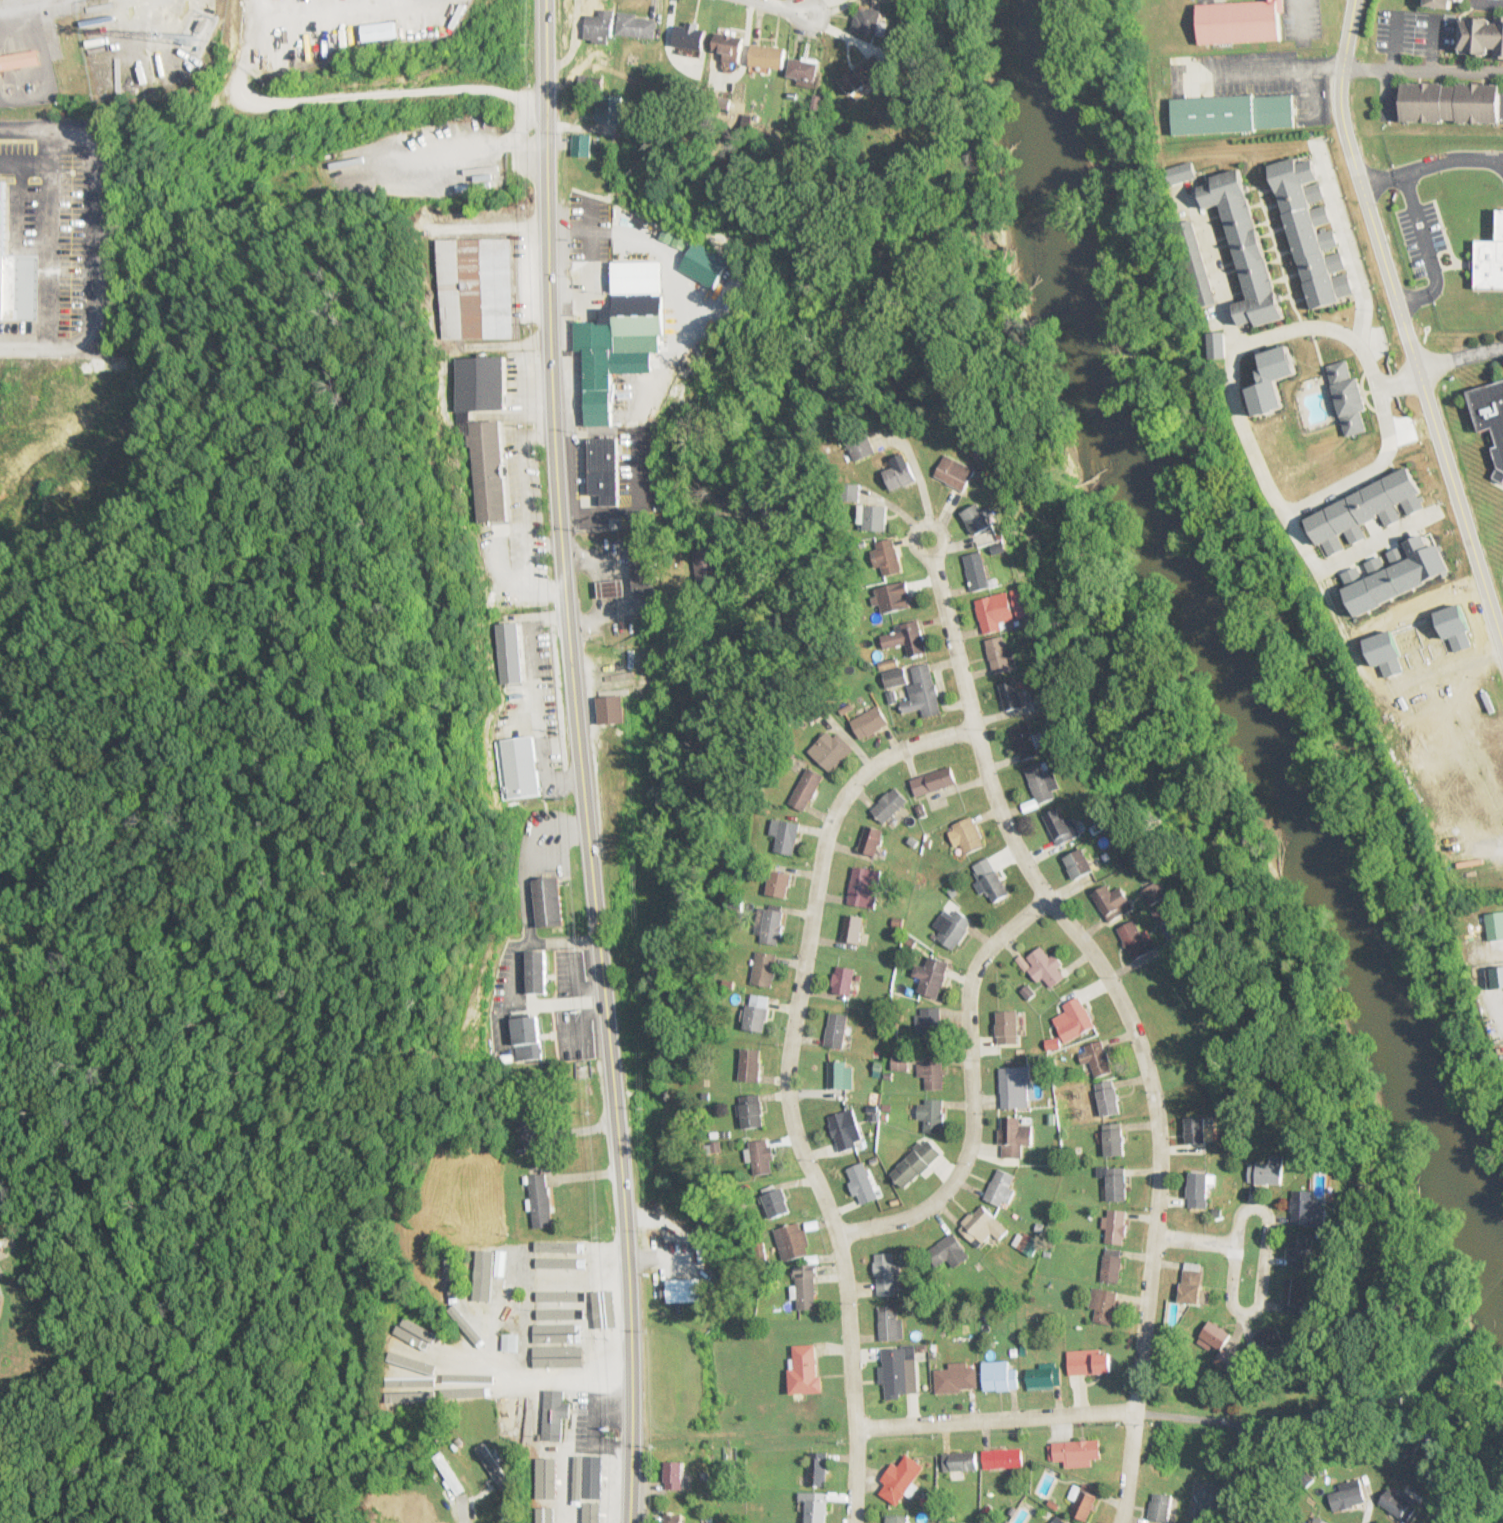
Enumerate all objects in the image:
road: (783, 5)
building: (869, 21)
building: (1240, 21)
building: (594, 24)
building: (636, 26)
building: (378, 31)
road: (1346, 34)
building: (689, 36)
building: (1482, 37)
building: (728, 46)
building: (767, 57)
building: (19, 60)
building: (803, 69)
road: (1421, 69)
building: (863, 75)
building: (1451, 103)
building: (610, 110)
building: (1233, 114)
parking lot: (15, 145)
building: (582, 145)
road: (48, 163)
road: (1430, 163)
road: (95, 235)
parking lot: (1421, 237)
road: (1343, 238)
road: (1425, 247)
building: (1246, 248)
building: (1488, 257)
road: (1461, 263)
building: (704, 264)
building: (6, 273)
building: (475, 289)
building: (620, 333)
road: (1412, 357)
road: (1414, 376)
road: (1393, 382)
road: (1377, 389)
building: (1490, 414)
building: (860, 445)
road: (1251, 445)
building: (604, 469)
building: (486, 472)
building: (898, 472)
building: (955, 473)
building: (874, 519)
building: (977, 519)
road: (939, 532)
building: (887, 556)
building: (977, 572)
building: (611, 589)
building: (894, 598)
building: (995, 612)
river: (1223, 637)
building: (907, 639)
building: (511, 651)
building: (1000, 655)
building: (924, 693)
building: (1011, 696)
building: (612, 708)
building: (870, 721)
building: (1025, 743)
building: (830, 750)
road: (578, 762)
building: (519, 766)
building: (934, 781)
building: (1041, 783)
building: (806, 789)
building: (889, 804)
building: (1062, 826)
building: (969, 834)
building: (785, 836)
building: (870, 839)
building: (1079, 863)
building: (778, 883)
building: (864, 886)
building: (993, 886)
building: (548, 901)
building: (1112, 901)
building: (772, 924)
building: (1495, 925)
building: (952, 927)
building: (852, 928)
building: (1134, 938)
building: (1043, 966)
building: (764, 968)
building: (537, 971)
building: (932, 976)
building: (843, 980)
park: (1189, 999)
building: (757, 1013)
road: (1127, 1016)
building: (1074, 1019)
building: (931, 1027)
building: (1008, 1027)
building: (837, 1030)
building: (527, 1033)
building: (1098, 1058)
building: (749, 1065)
building: (931, 1075)
road: (786, 1085)
building: (1016, 1087)
road: (972, 1091)
building: (1108, 1098)
building: (751, 1111)
building: (932, 1114)
building: (528, 1127)
building: (844, 1130)
building: (1196, 1130)
building: (1014, 1136)
building: (1114, 1140)
building: (762, 1156)
building: (916, 1162)
building: (1266, 1173)
building: (862, 1183)
building: (1117, 1184)
building: (1000, 1187)
building: (1200, 1189)
building: (540, 1200)
building: (775, 1201)
building: (1307, 1209)
road: (1236, 1216)
building: (982, 1224)
building: (1116, 1226)
road: (1193, 1238)
building: (792, 1241)
building: (1, 1248)
building: (559, 1250)
building: (1298, 1250)
building: (948, 1252)
building: (1112, 1265)
building: (559, 1267)
building: (488, 1272)
building: (888, 1273)
building: (559, 1282)
building: (1193, 1282)
building: (447, 1286)
building: (806, 1287)
building: (684, 1290)
building: (1297, 1292)
building: (0, 1299)
building: (1104, 1304)
building: (891, 1323)
building: (563, 1330)
building: (425, 1333)
building: (1215, 1336)
building: (510, 1342)
building: (1090, 1362)
building: (390, 1368)
building: (805, 1368)
building: (896, 1373)
building: (1044, 1376)
building: (1000, 1377)
building: (414, 1378)
building: (468, 1378)
building: (956, 1378)
building: (554, 1415)
road: (994, 1418)
building: (459, 1450)
building: (1075, 1452)
building: (1003, 1458)
building: (493, 1461)
building: (963, 1463)
building: (447, 1470)
building: (674, 1475)
building: (546, 1479)
building: (900, 1479)
building: (591, 1492)
building: (1348, 1495)
building: (1086, 1502)
building: (1399, 1503)
building: (1161, 1507)
building: (410, 1508)
building: (815, 1508)
building: (507, 1512)
building: (545, 1513)
building: (672, 1518)
building: (897, 1519)
building: (1058, 1520)
building: (1319, 1520)

